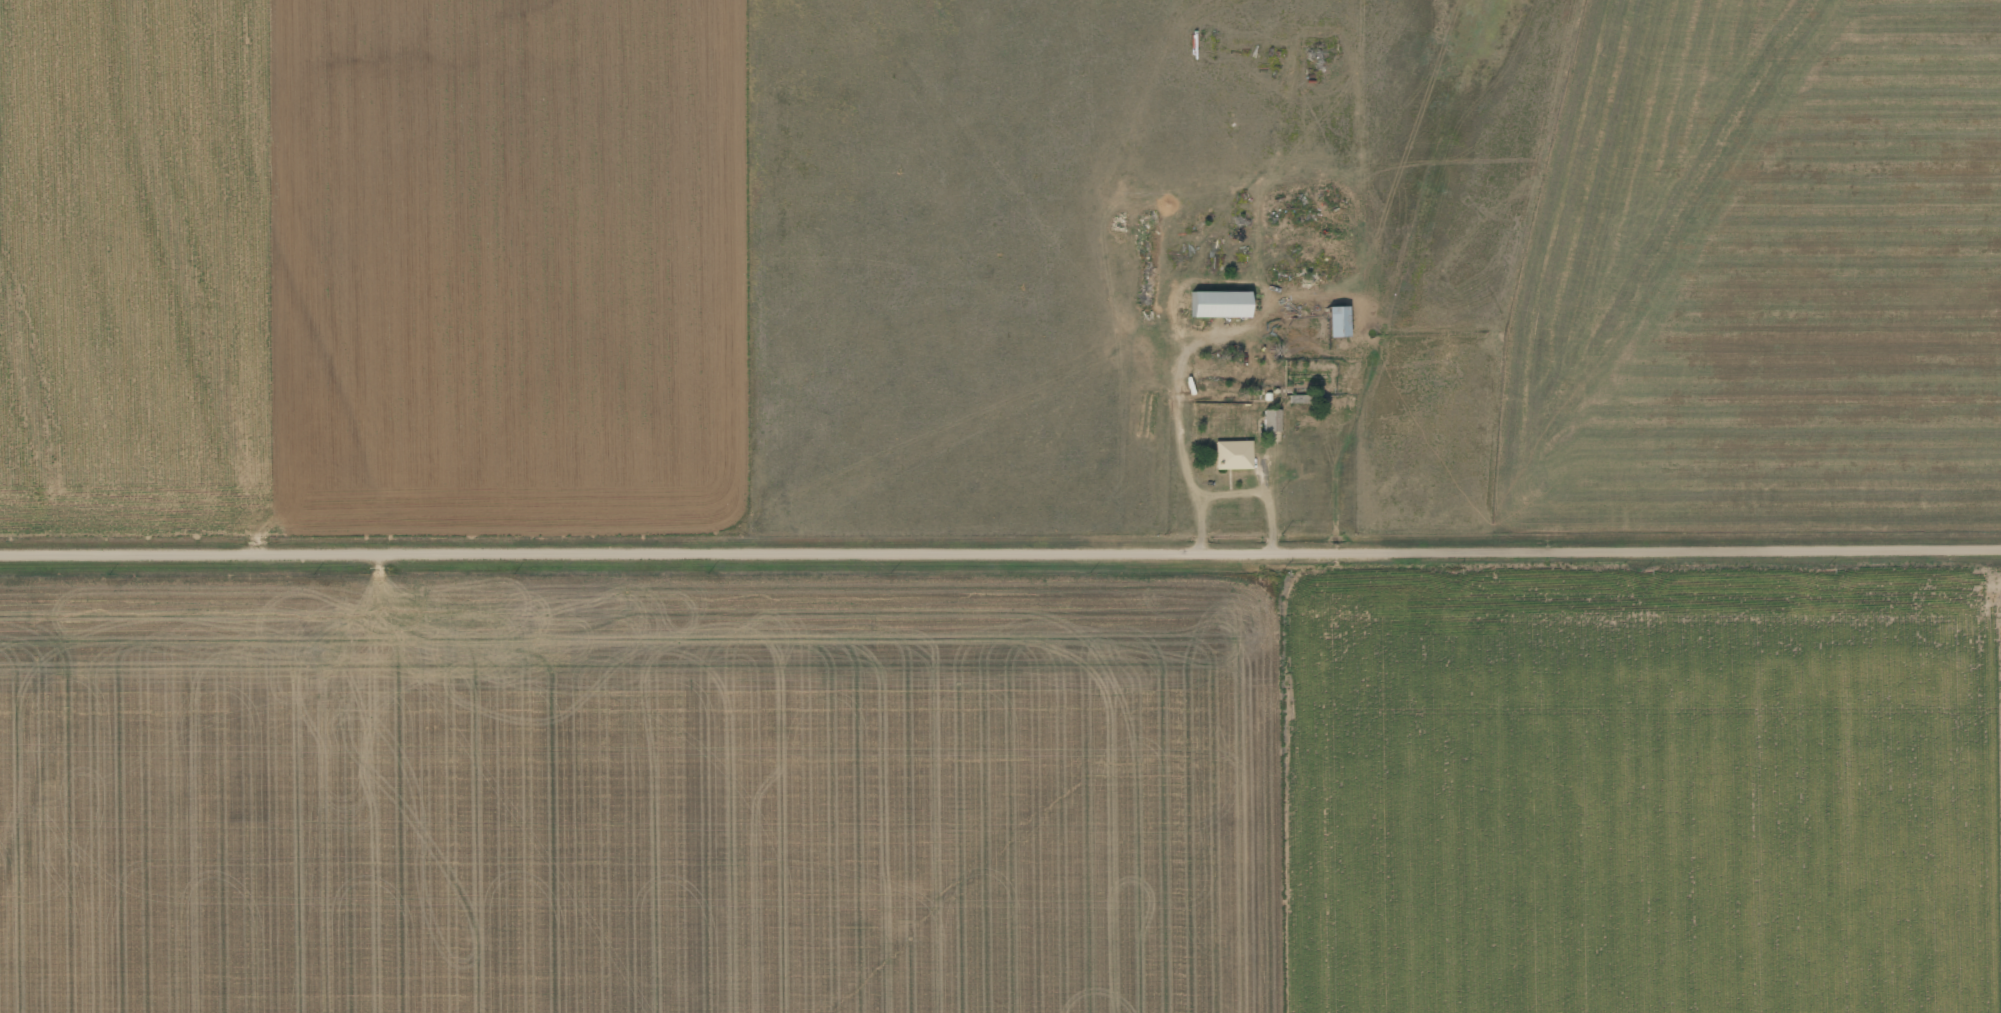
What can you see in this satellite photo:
building: (1222, 302)
building: (1339, 319)
building: (1271, 419)
building: (1233, 453)
road: (1000, 550)

